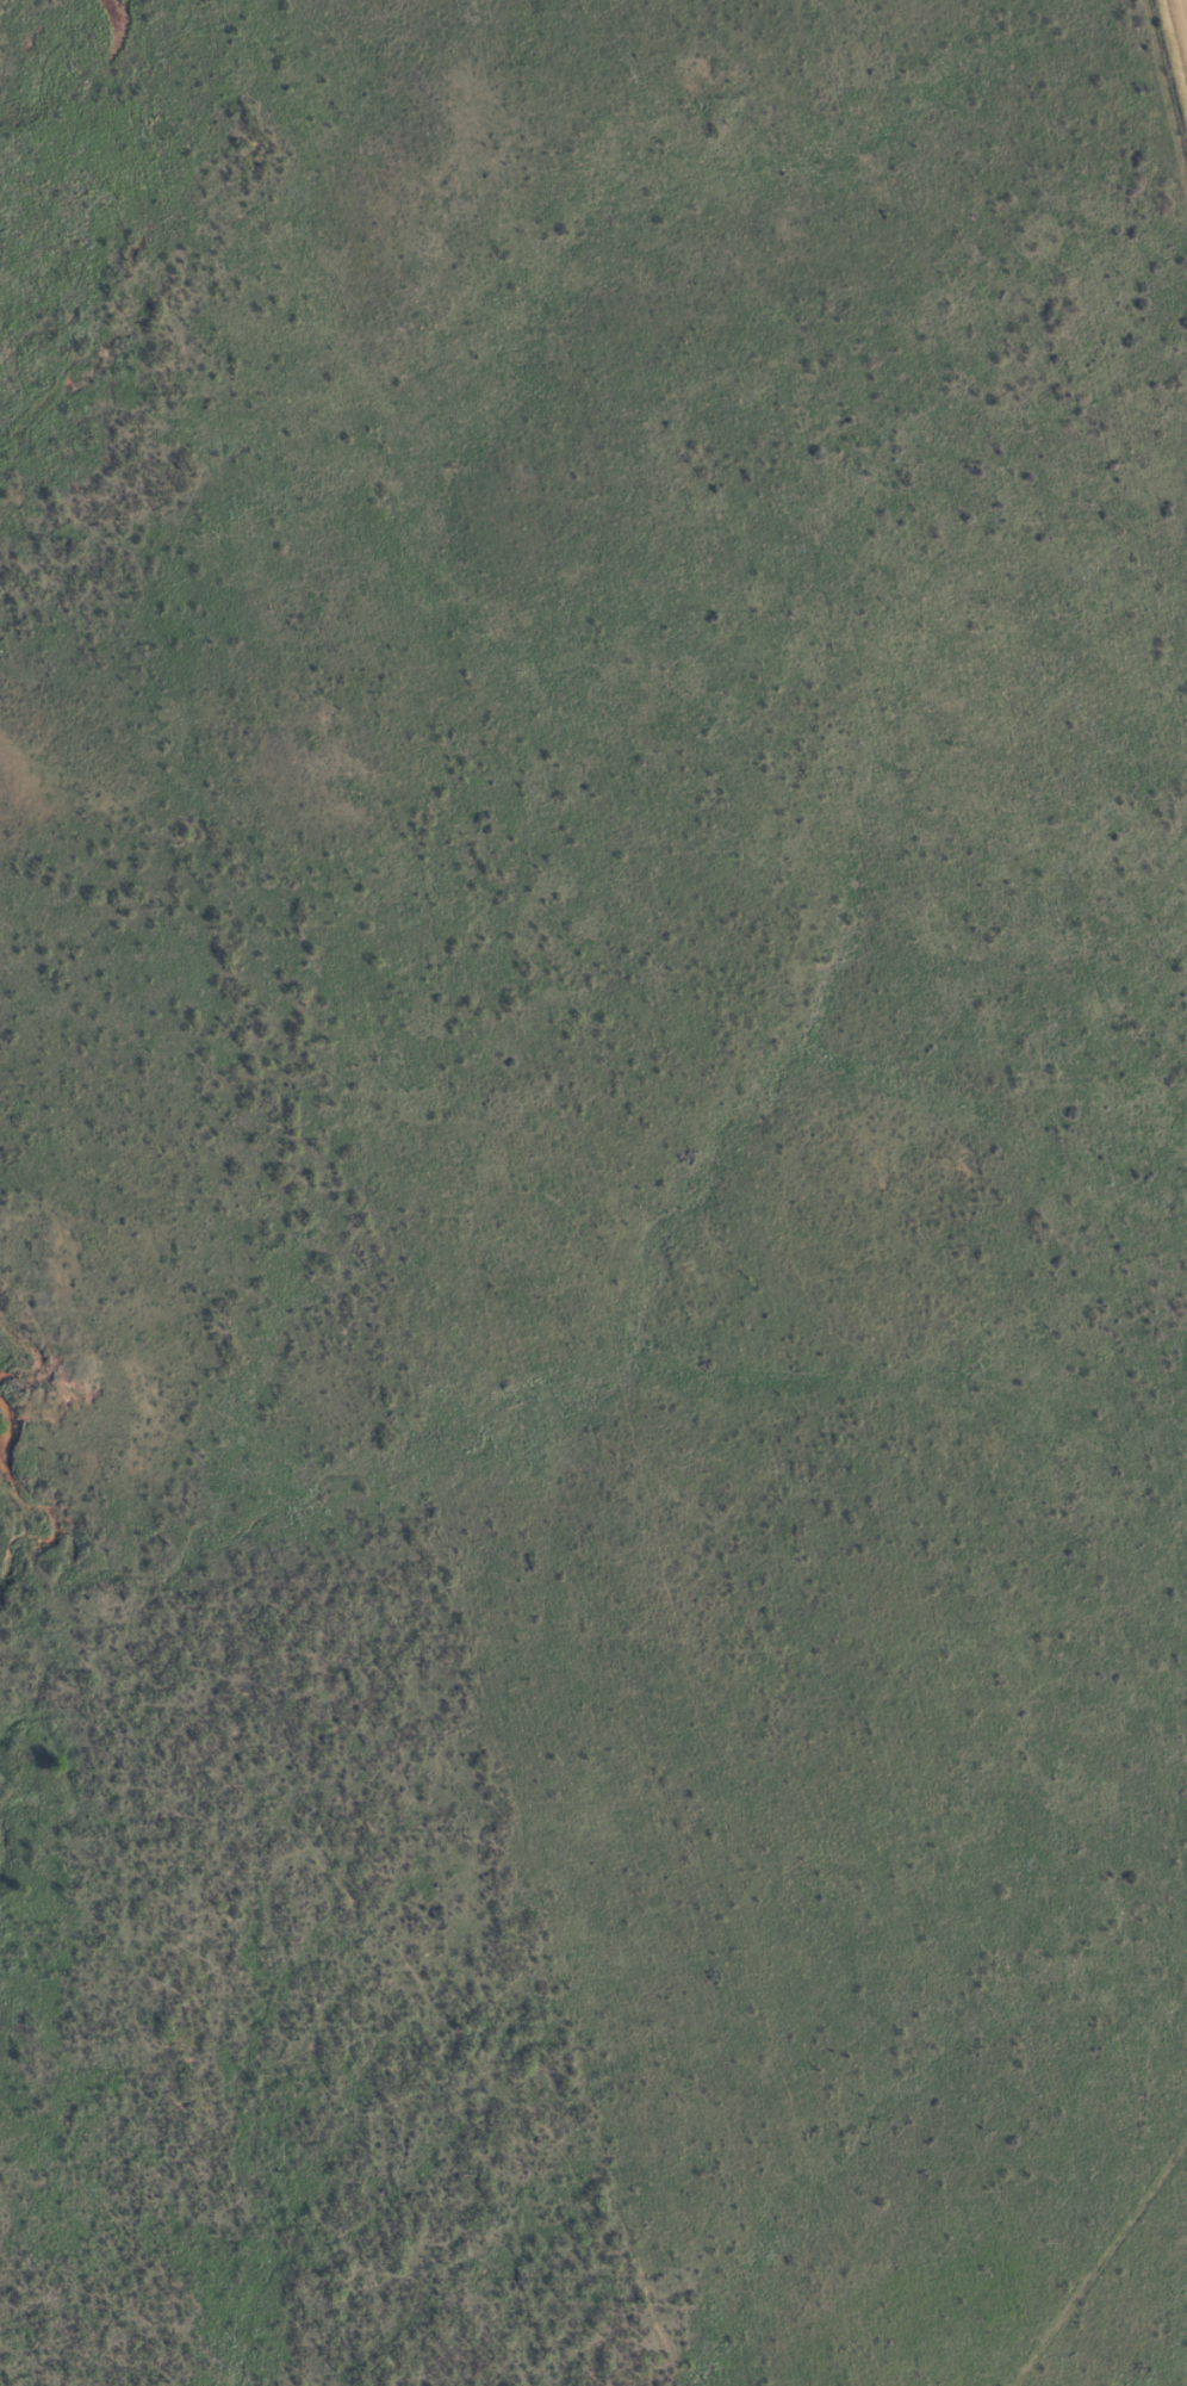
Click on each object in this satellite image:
road: (1161, 107)

